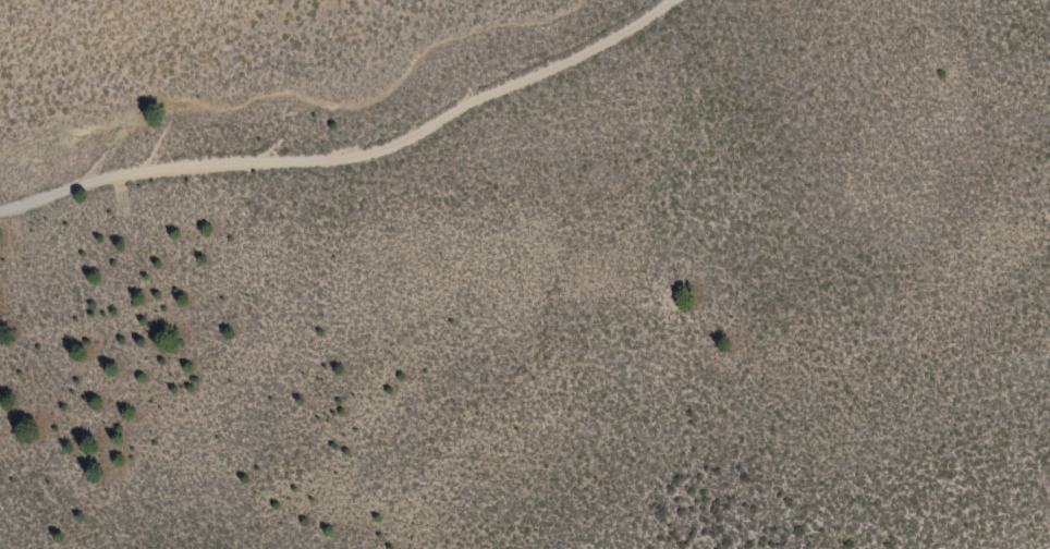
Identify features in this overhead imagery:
road: (351, 152)

